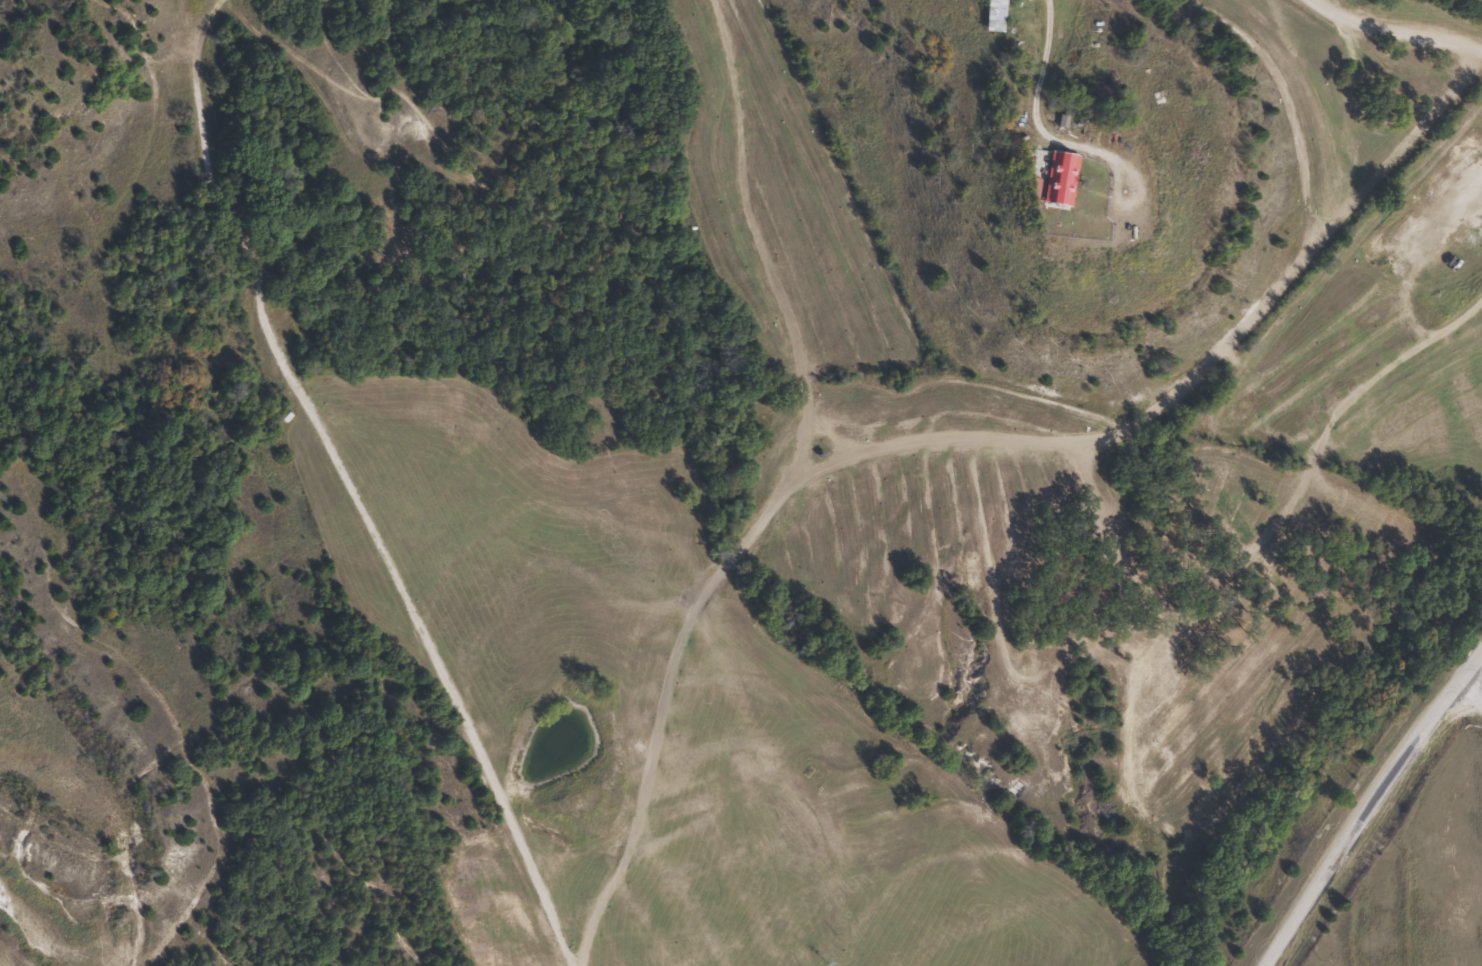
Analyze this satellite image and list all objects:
building: (990, 15)
road: (1409, 25)
building: (1161, 96)
building: (1057, 179)
road: (1475, 674)
road: (1368, 804)

